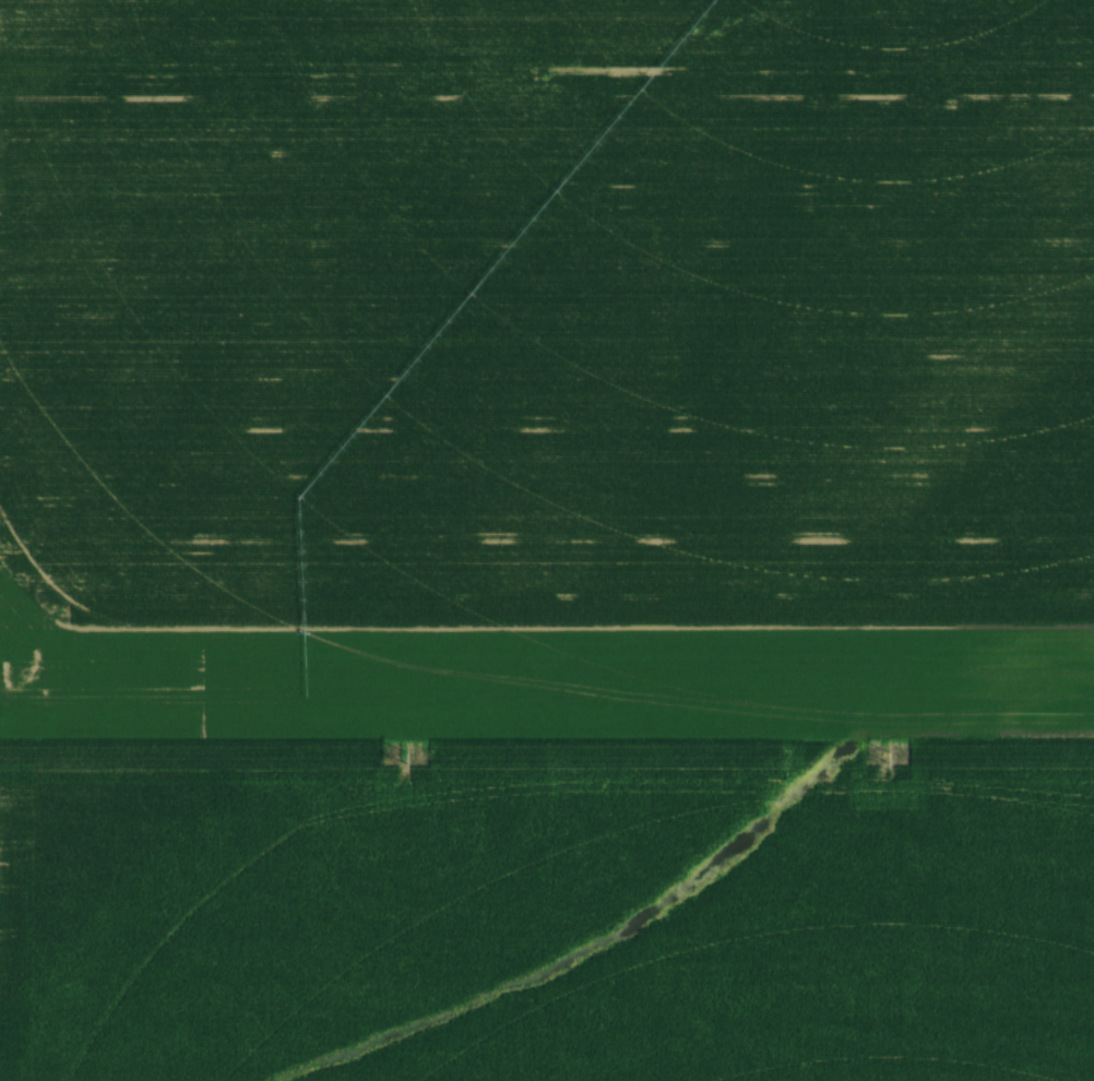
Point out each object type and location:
power tower: (884, 758)
power tower: (404, 759)

